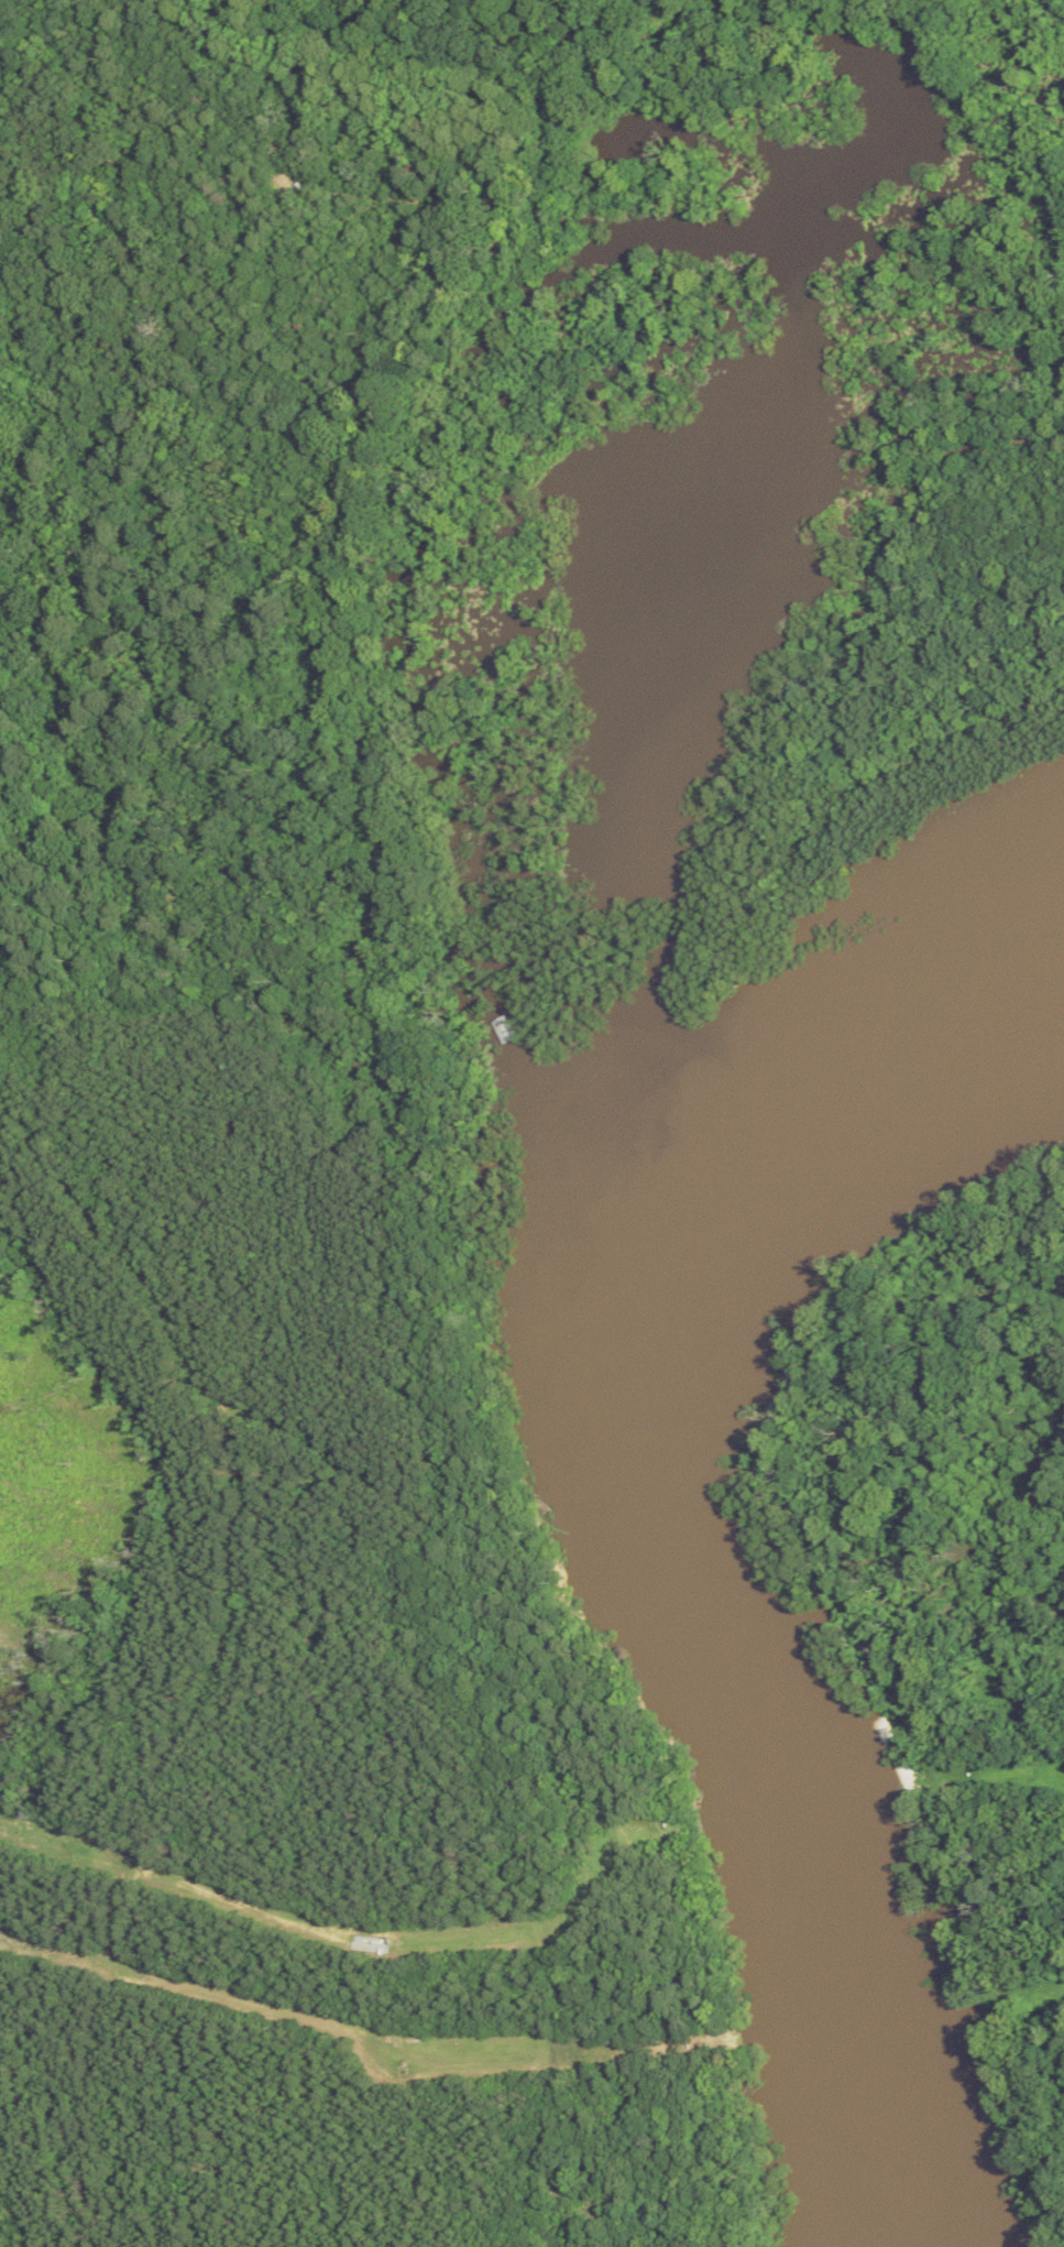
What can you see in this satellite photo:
river: (610, 1465)

